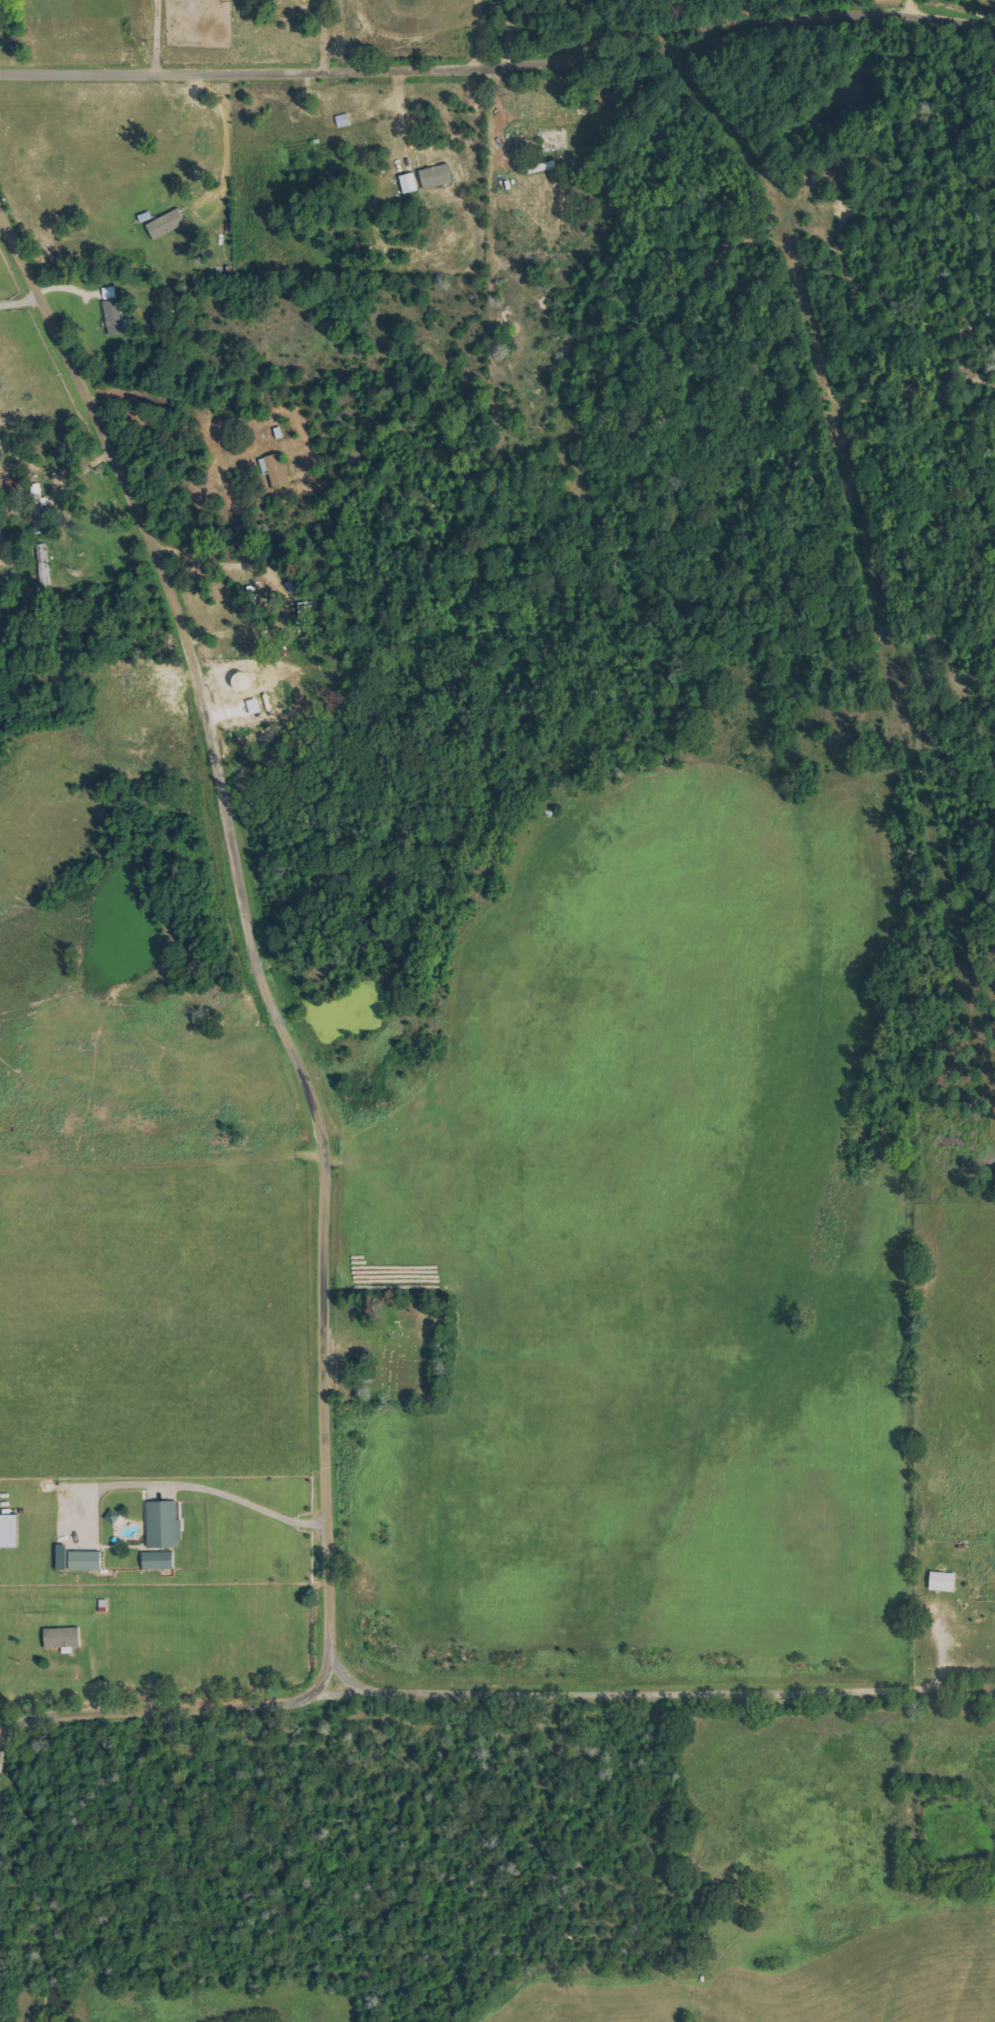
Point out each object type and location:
road: (500, 67)
building: (543, 167)
building: (438, 175)
building: (411, 182)
building: (168, 224)
building: (111, 292)
building: (116, 317)
building: (278, 470)
road: (250, 935)
park: (396, 1356)
building: (166, 1524)
building: (11, 1530)
building: (80, 1559)
building: (161, 1560)
building: (945, 1581)
building: (64, 1637)
road: (657, 1693)
road: (158, 1710)

